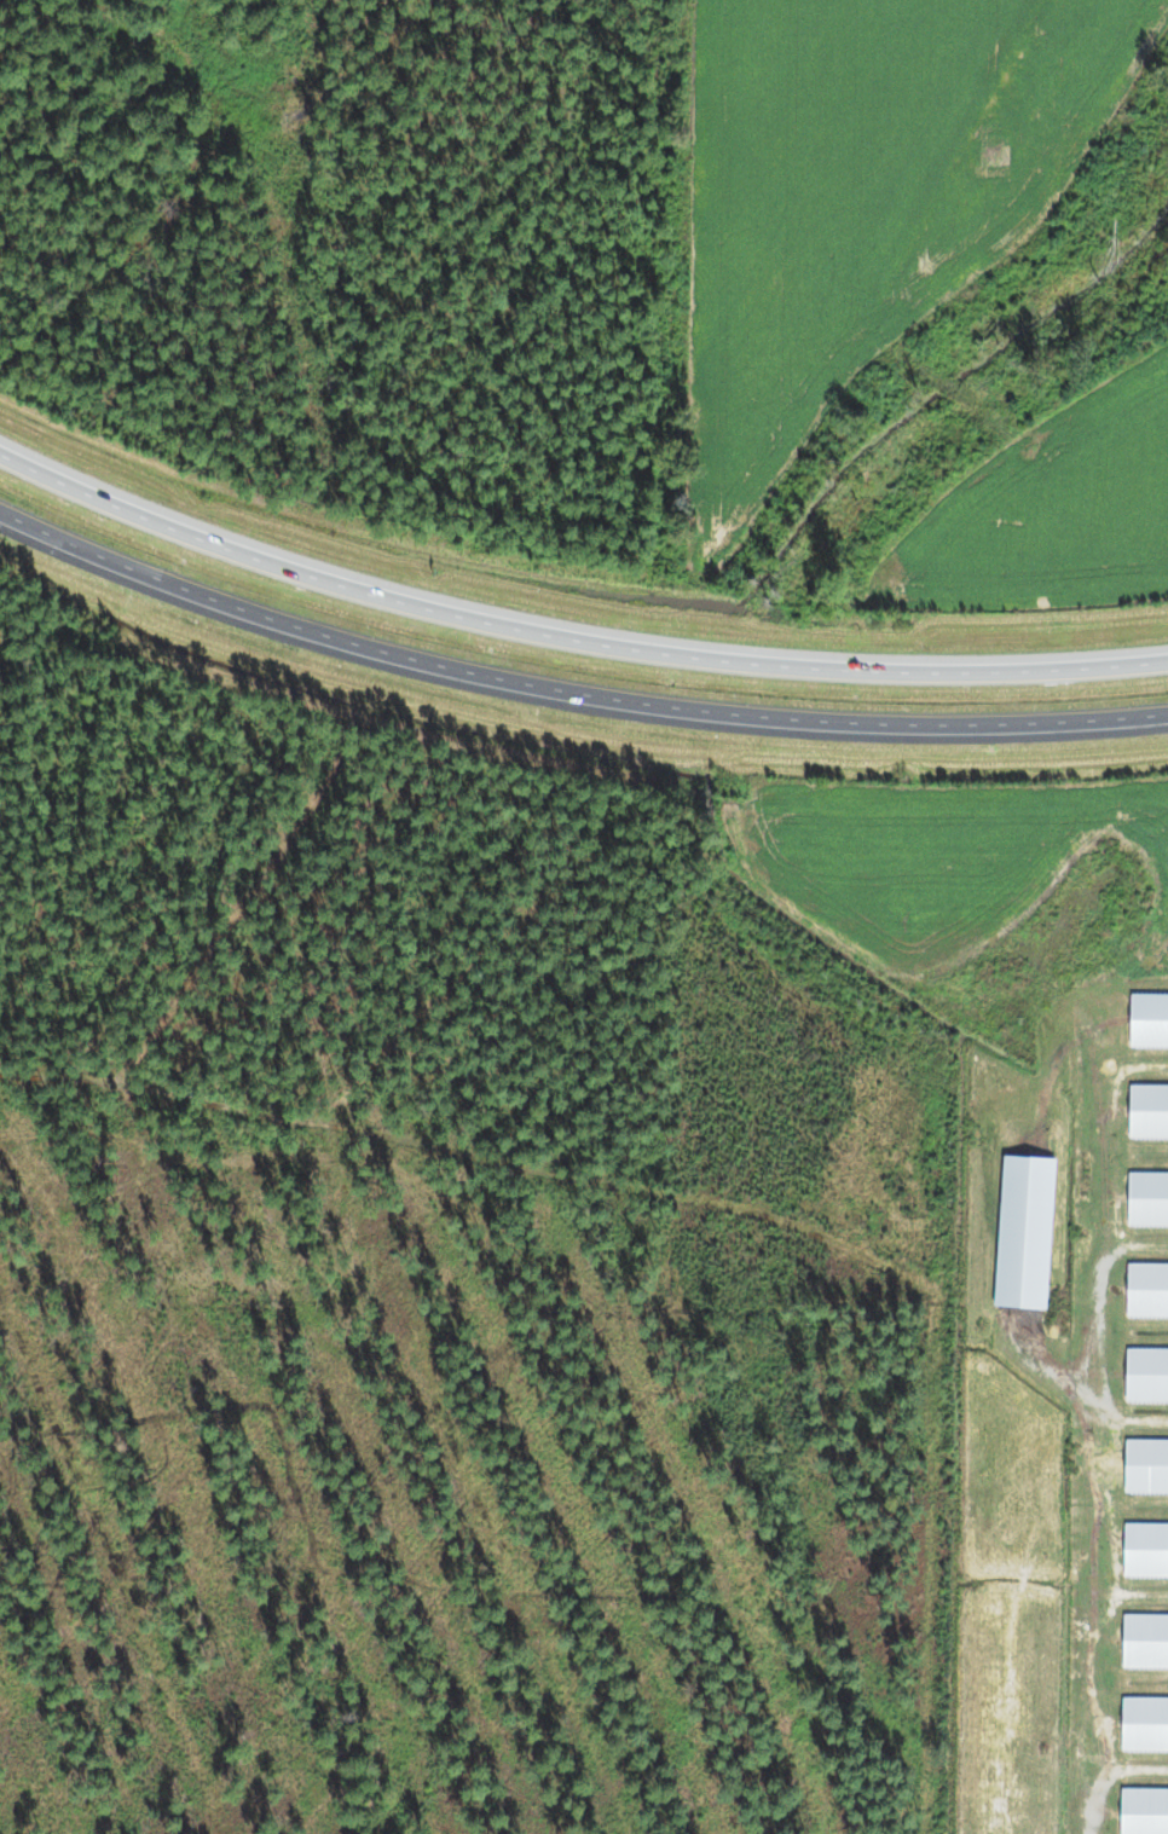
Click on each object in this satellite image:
road: (567, 653)
road: (567, 706)
building: (1150, 1020)
building: (1149, 1111)
building: (1149, 1199)
road: (740, 1209)
building: (1025, 1233)
road: (1133, 1244)
building: (1147, 1290)
building: (1147, 1375)
road: (1068, 1394)
road: (1093, 1427)
building: (1146, 1465)
building: (1146, 1551)
road: (1134, 1596)
building: (1145, 1642)
building: (1145, 1725)
road: (1131, 1760)
building: (1145, 1812)

